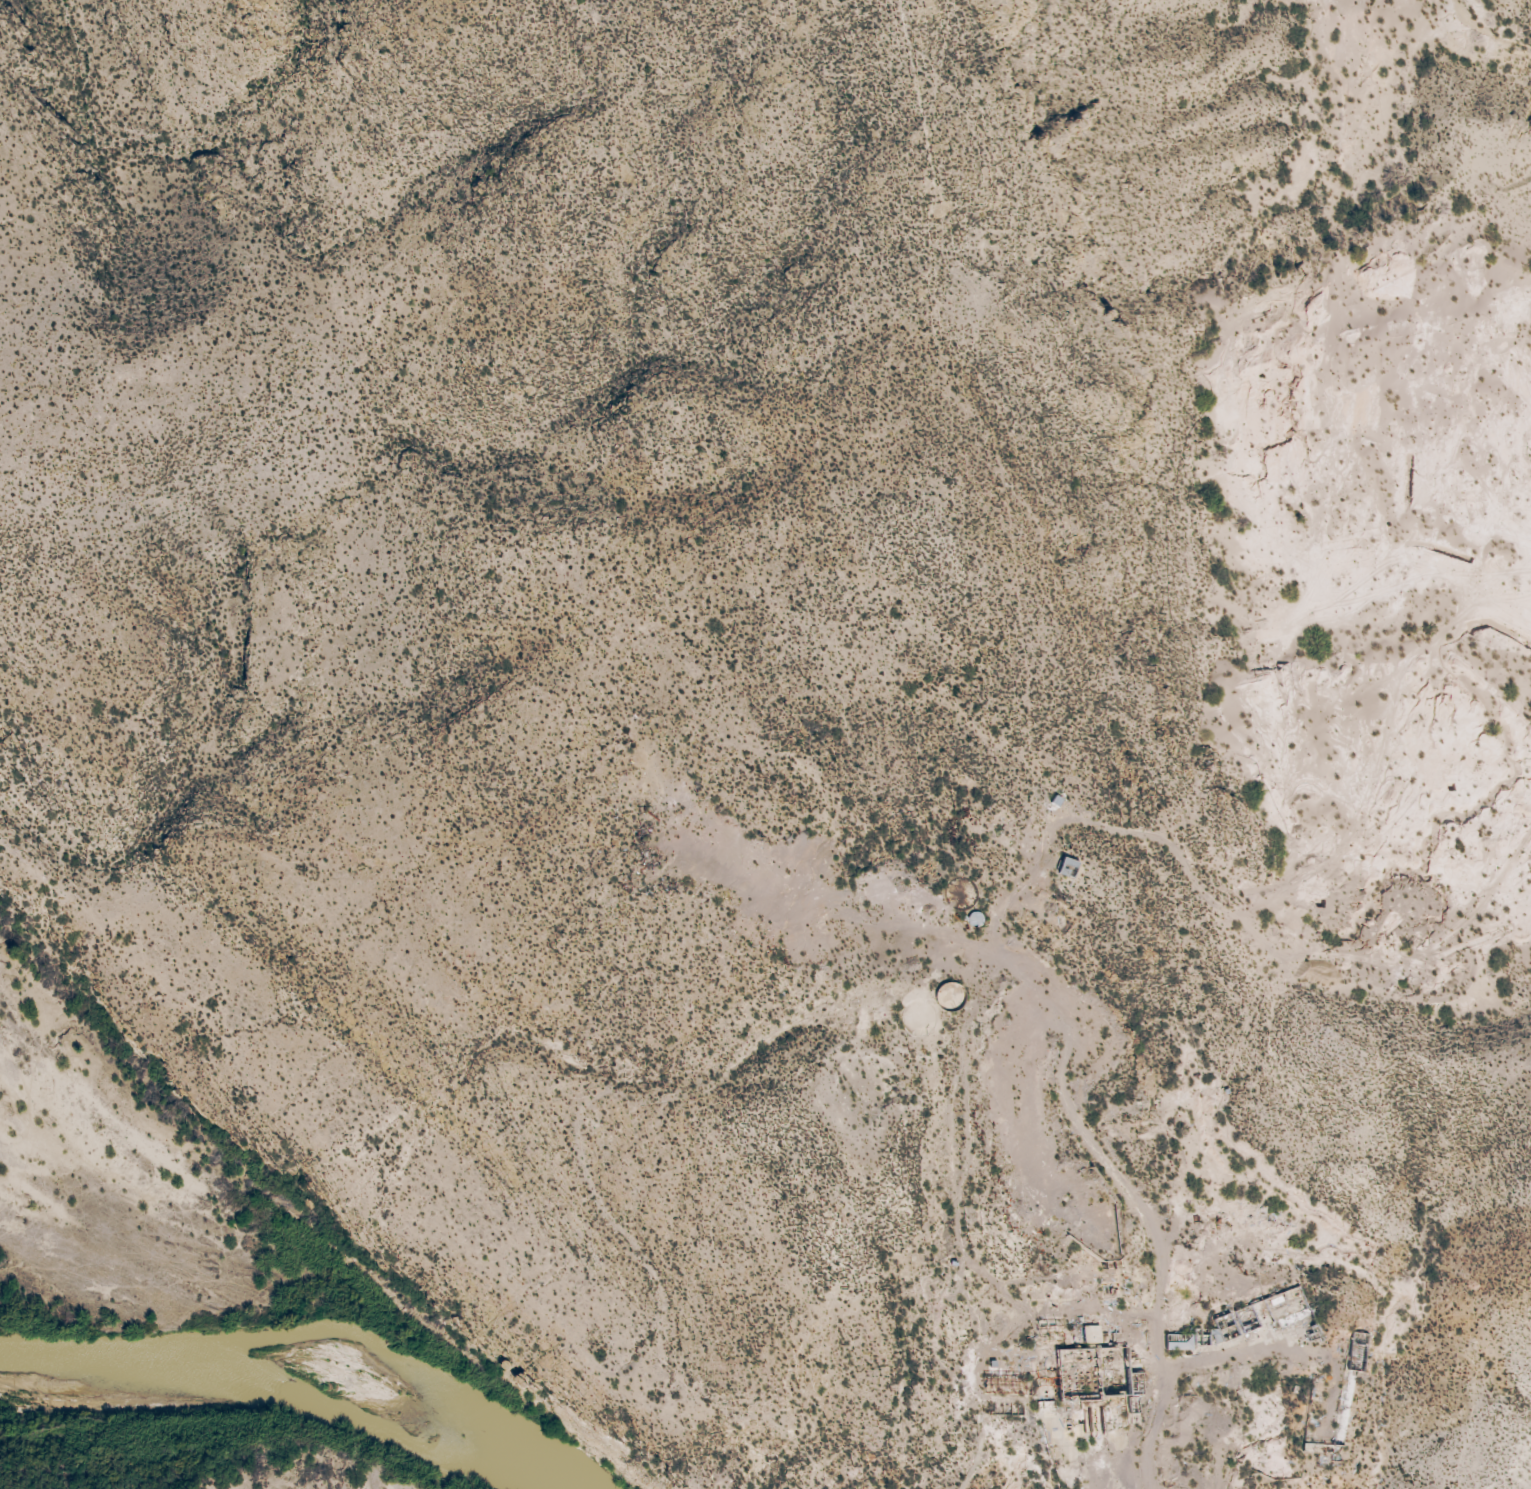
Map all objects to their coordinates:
building: (1076, 862)
road: (1140, 1199)
road: (1248, 1359)
building: (1027, 1370)
river: (287, 1401)
road: (1090, 1462)

